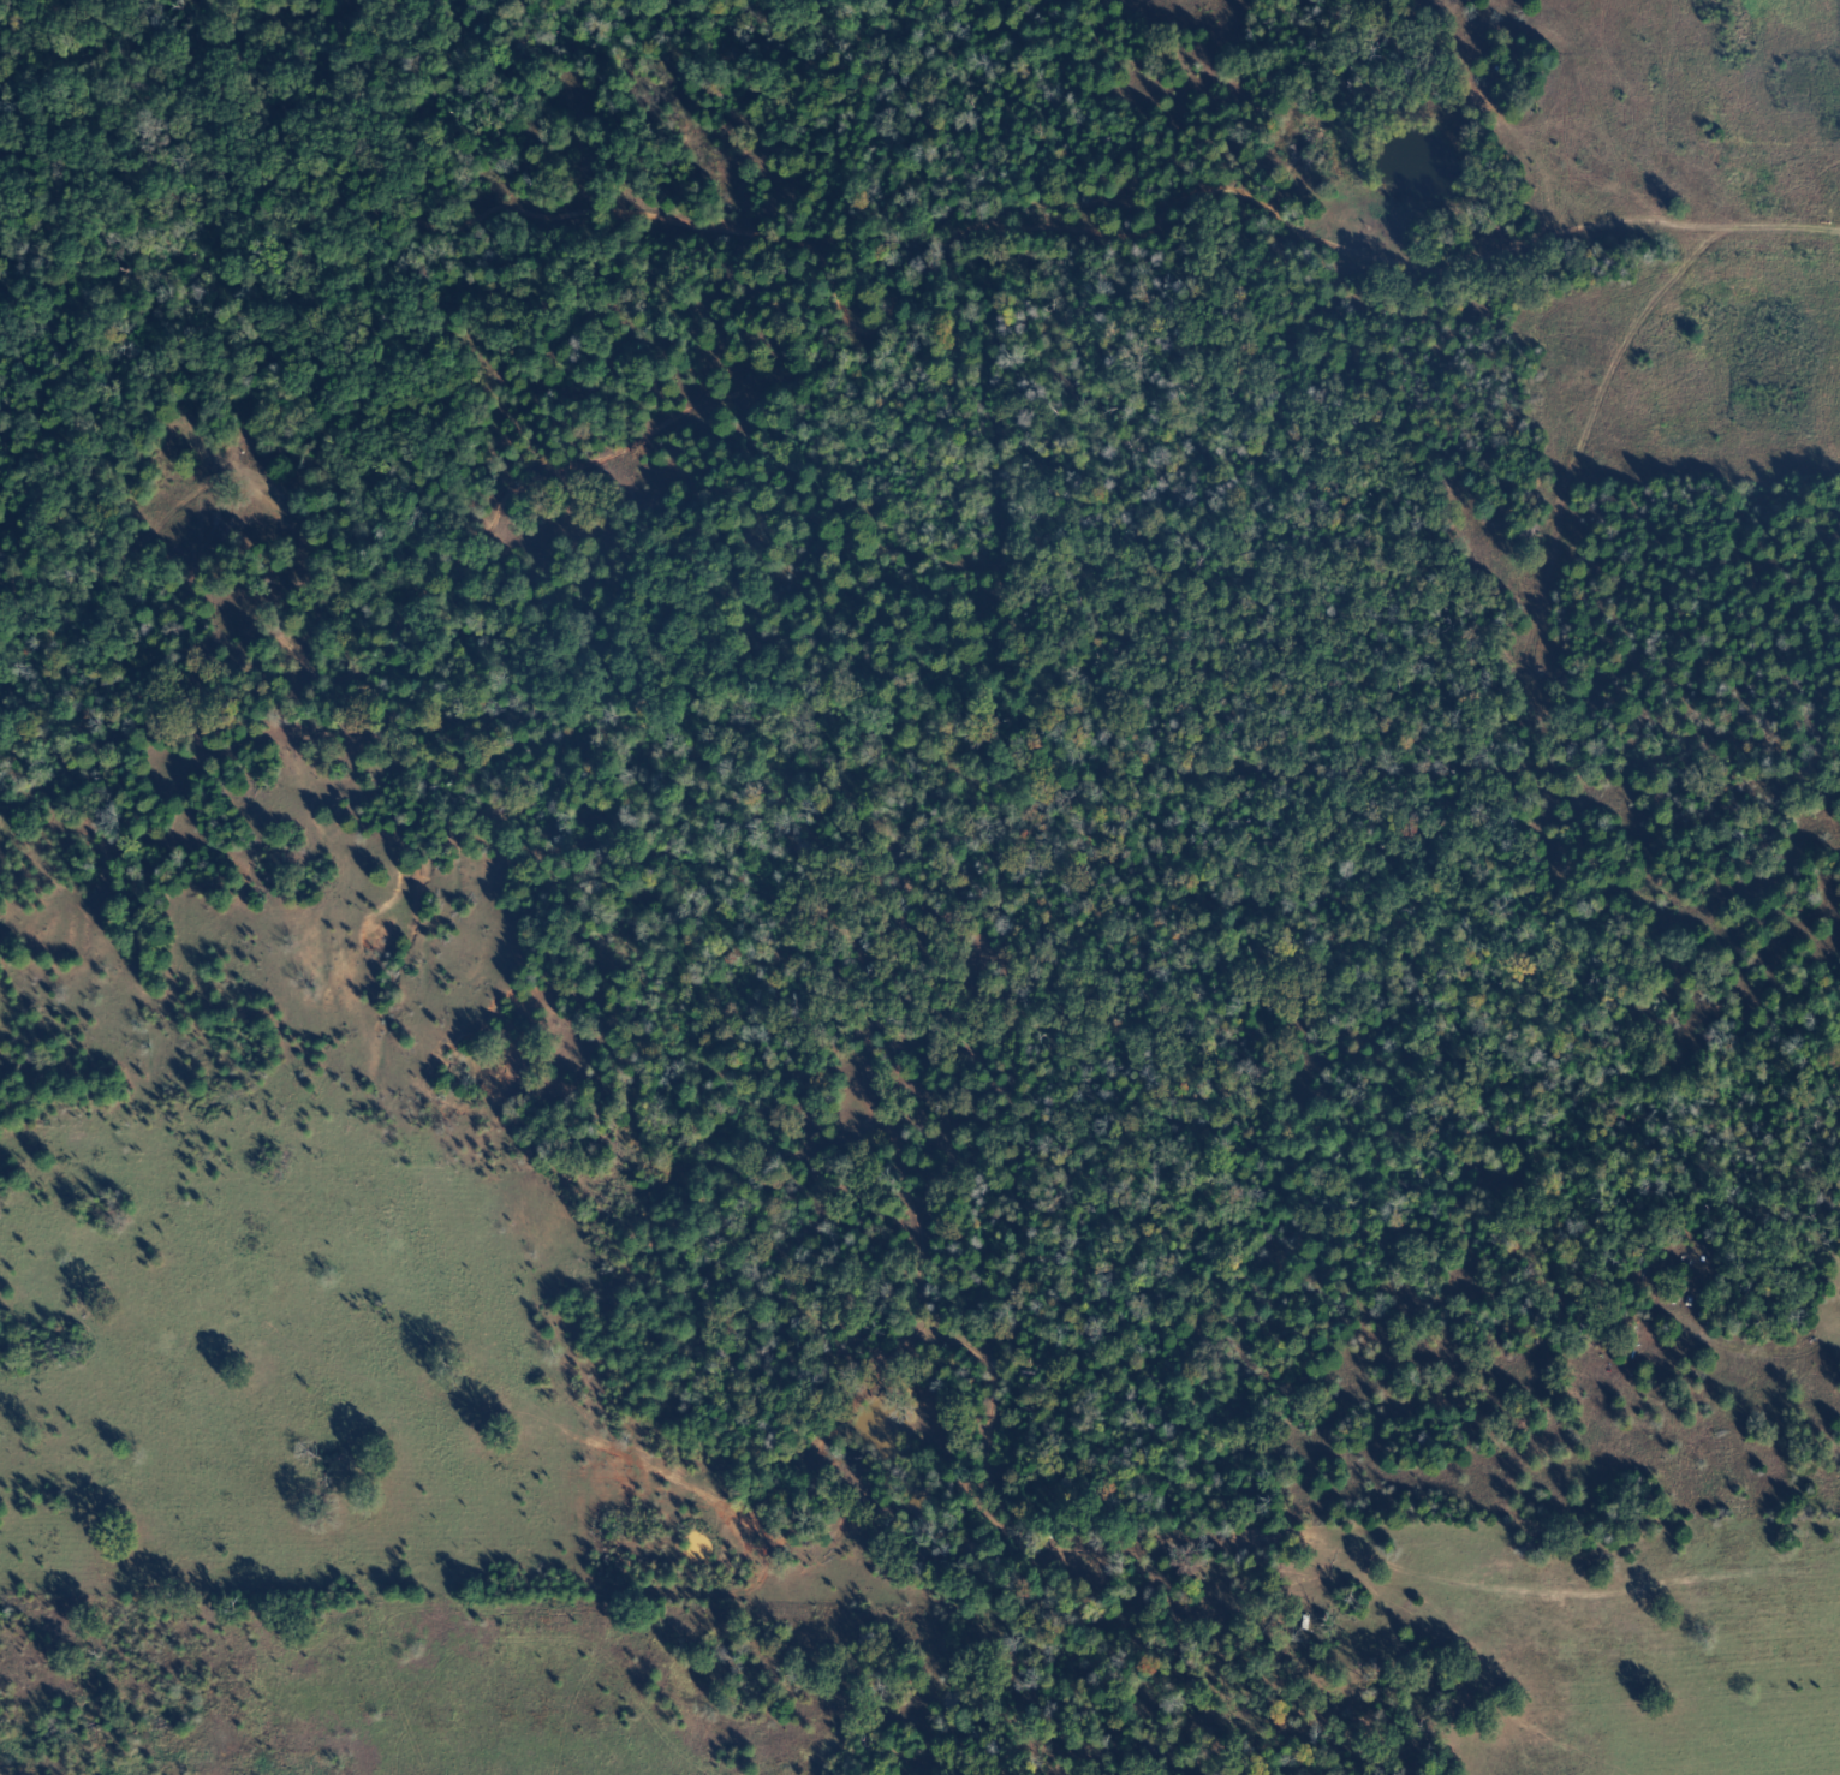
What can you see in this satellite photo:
road: (496, 1308)

